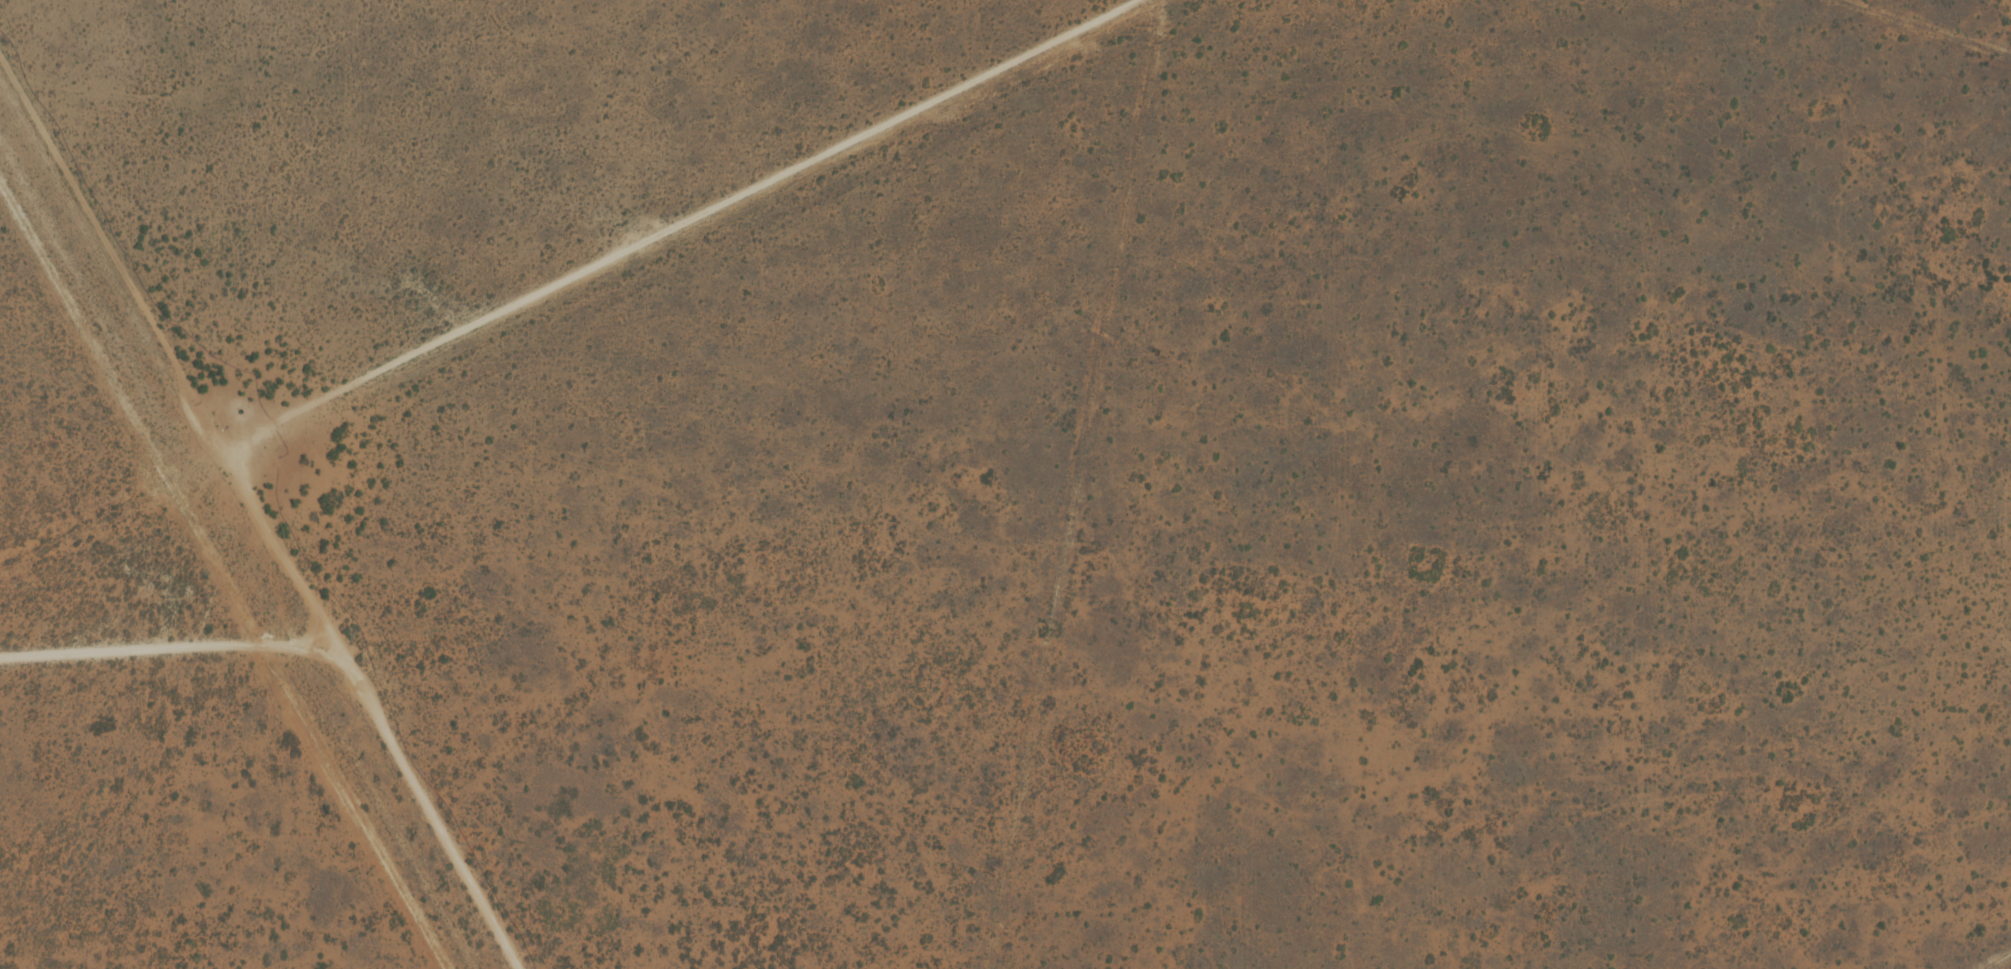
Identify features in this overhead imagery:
road: (708, 218)
road: (301, 532)
road: (178, 639)
road: (454, 798)

